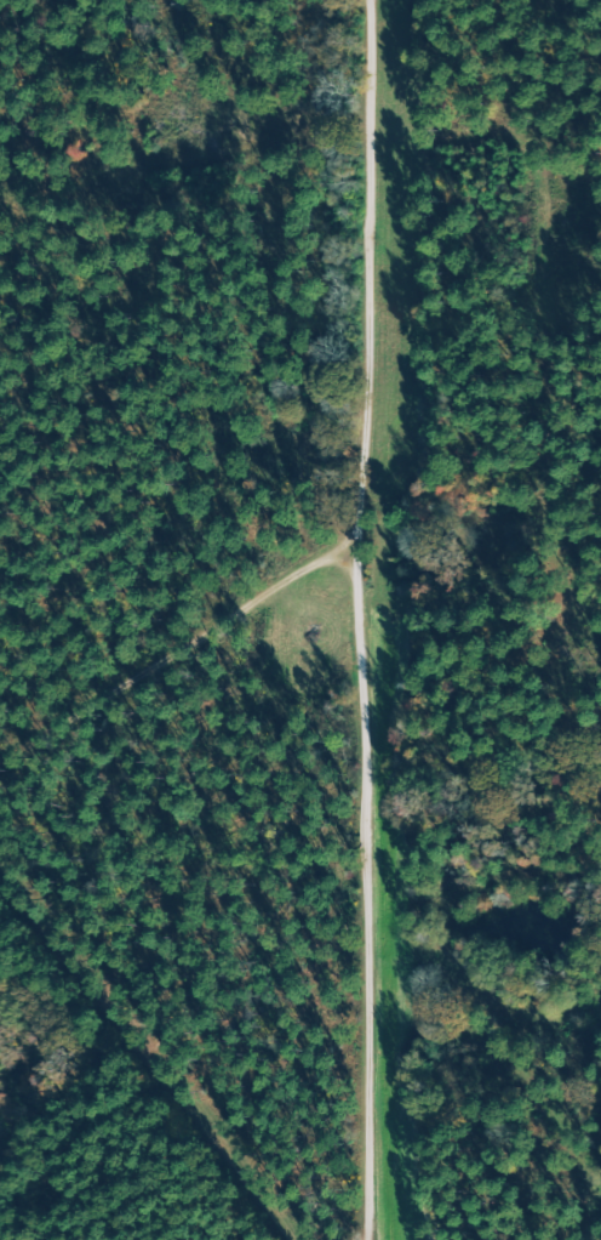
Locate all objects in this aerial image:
road: (385, 317)
road: (187, 713)

